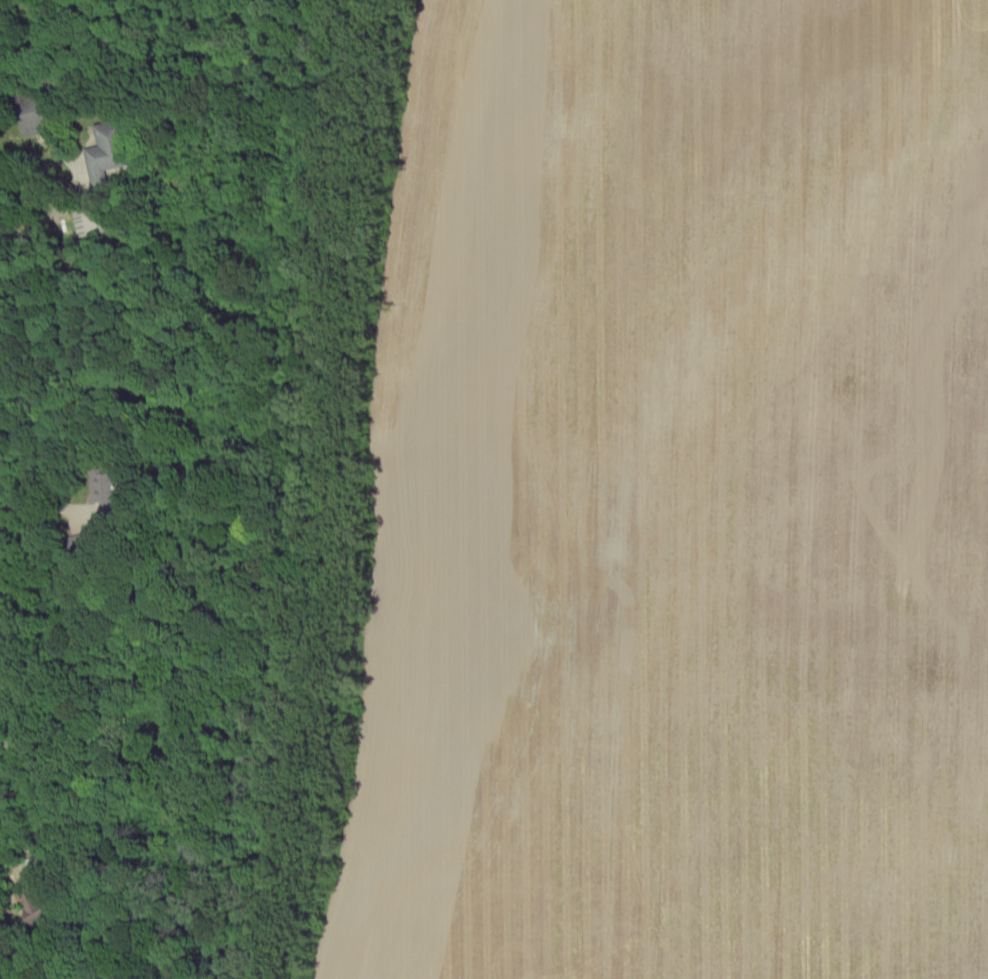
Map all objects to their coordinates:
building: (108, 151)
road: (81, 206)
building: (105, 484)
road: (47, 504)
road: (23, 846)

